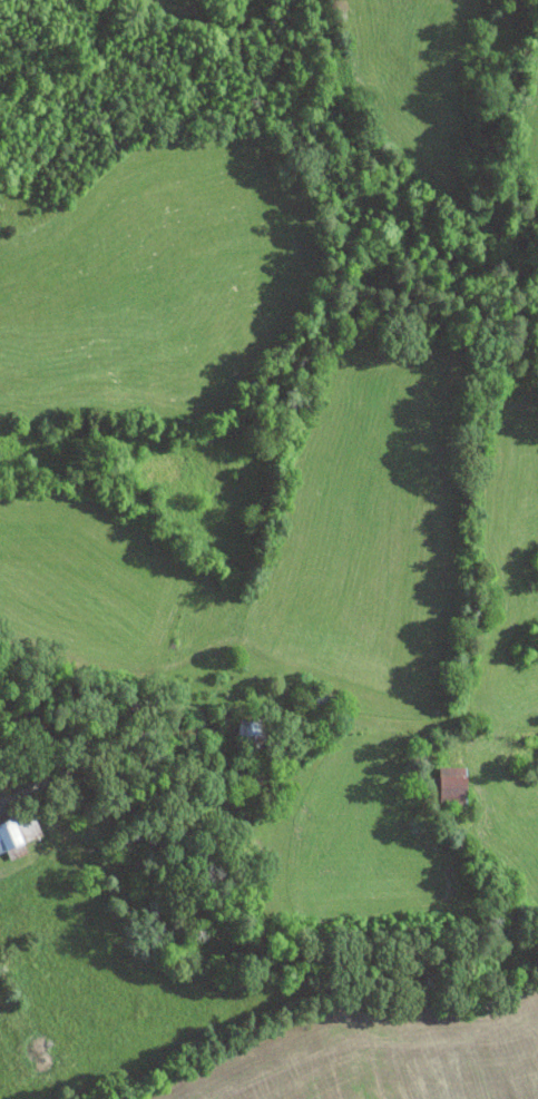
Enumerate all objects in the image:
building: (257, 733)
road: (89, 764)
building: (11, 835)

